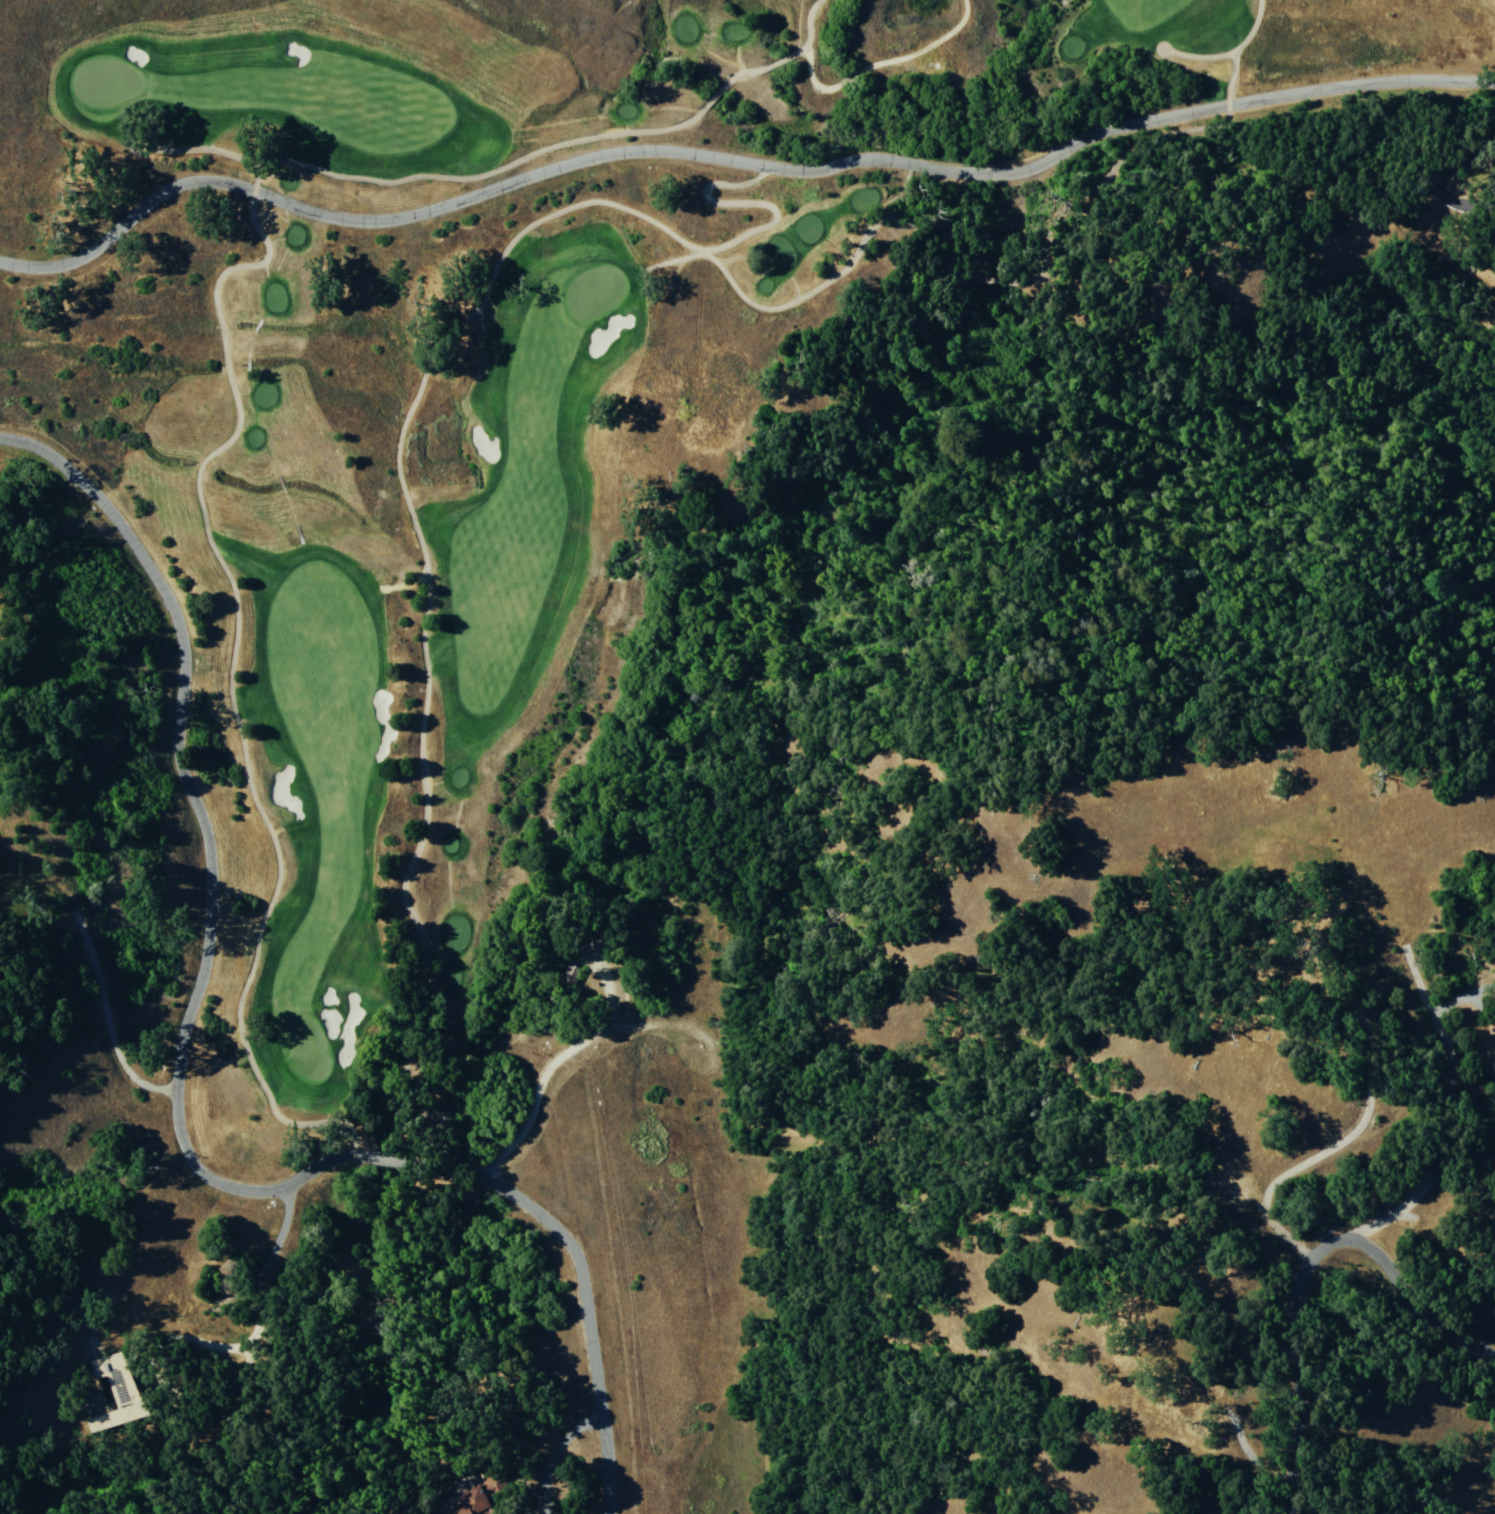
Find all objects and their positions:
road: (1227, 53)
road: (882, 62)
road: (1229, 78)
park: (105, 83)
road: (734, 159)
road: (506, 164)
road: (747, 202)
park: (593, 290)
park: (500, 394)
road: (424, 791)
building: (570, 975)
park: (305, 1047)
road: (182, 1097)
road: (1311, 1271)
building: (473, 1501)

